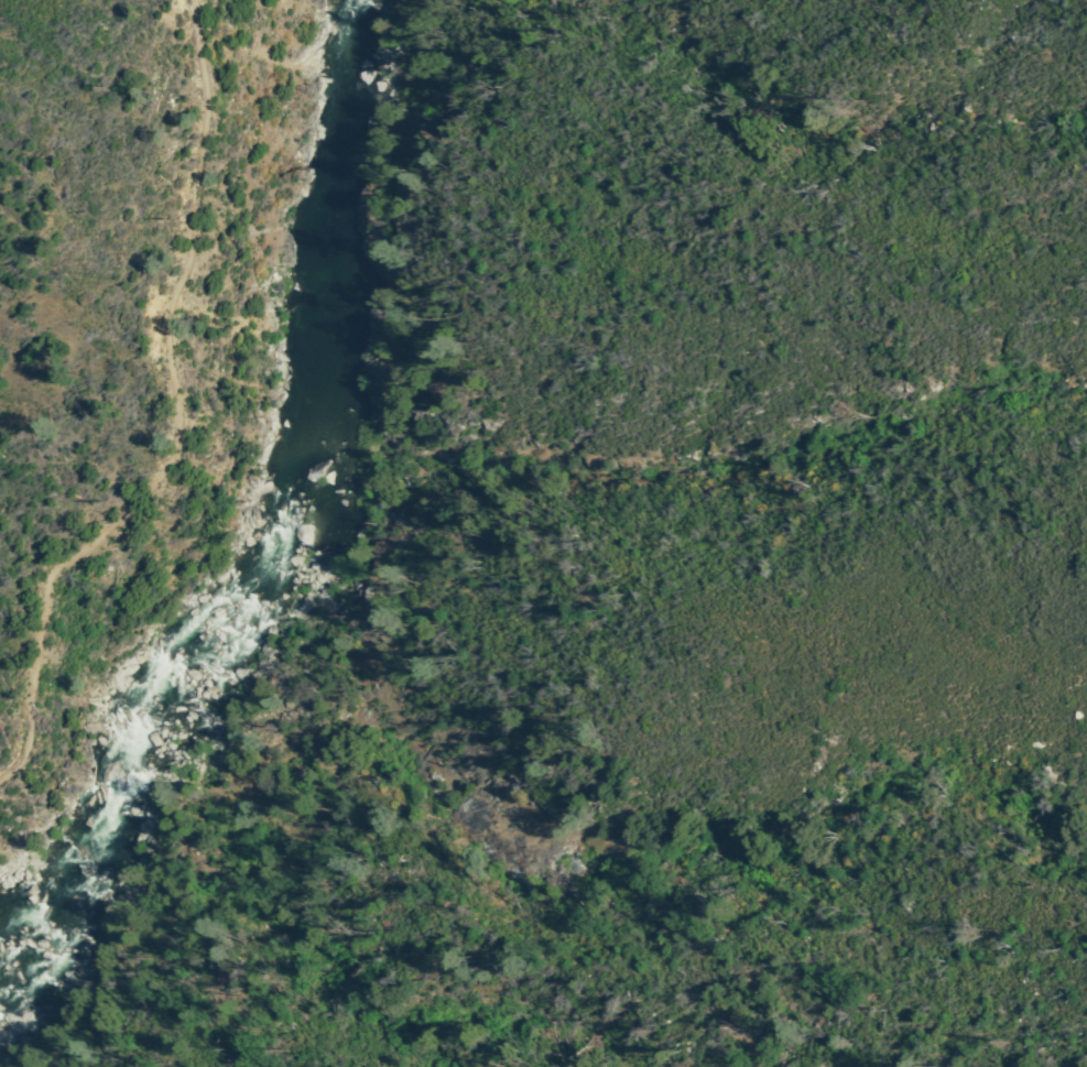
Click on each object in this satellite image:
road: (172, 418)
river: (294, 525)

